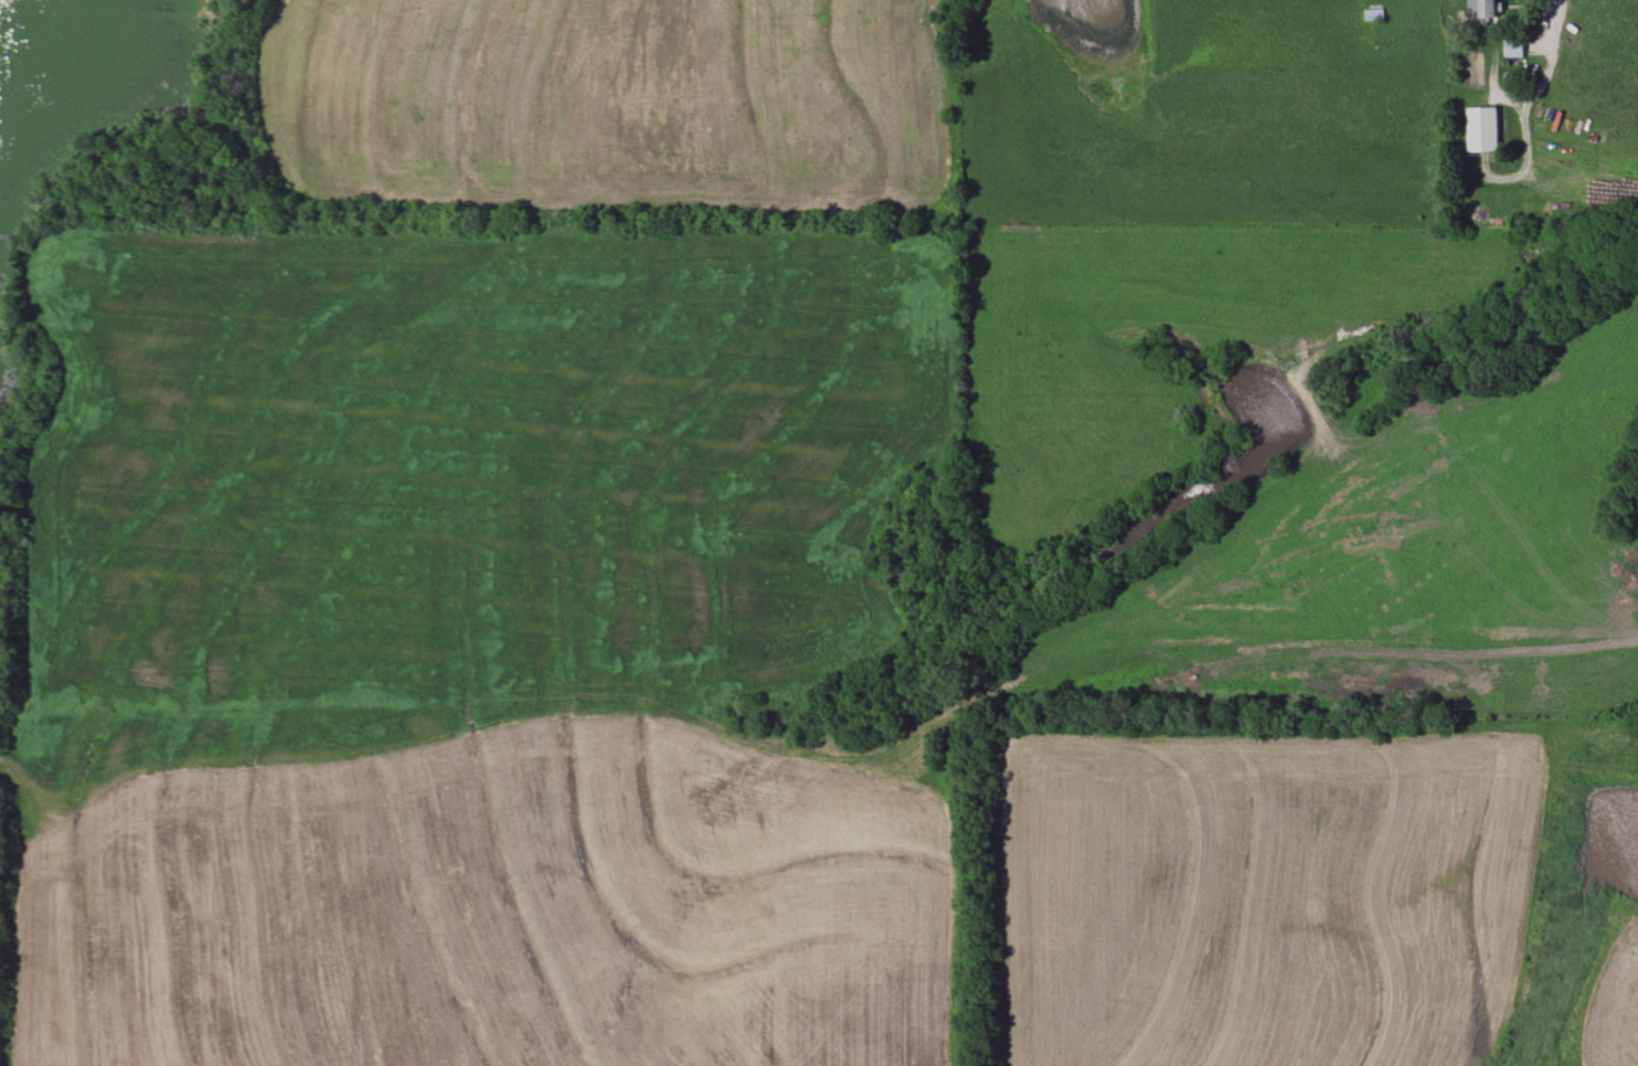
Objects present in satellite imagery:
building: (1482, 10)
building: (1373, 14)
road: (1557, 18)
building: (1513, 49)
building: (1481, 130)

